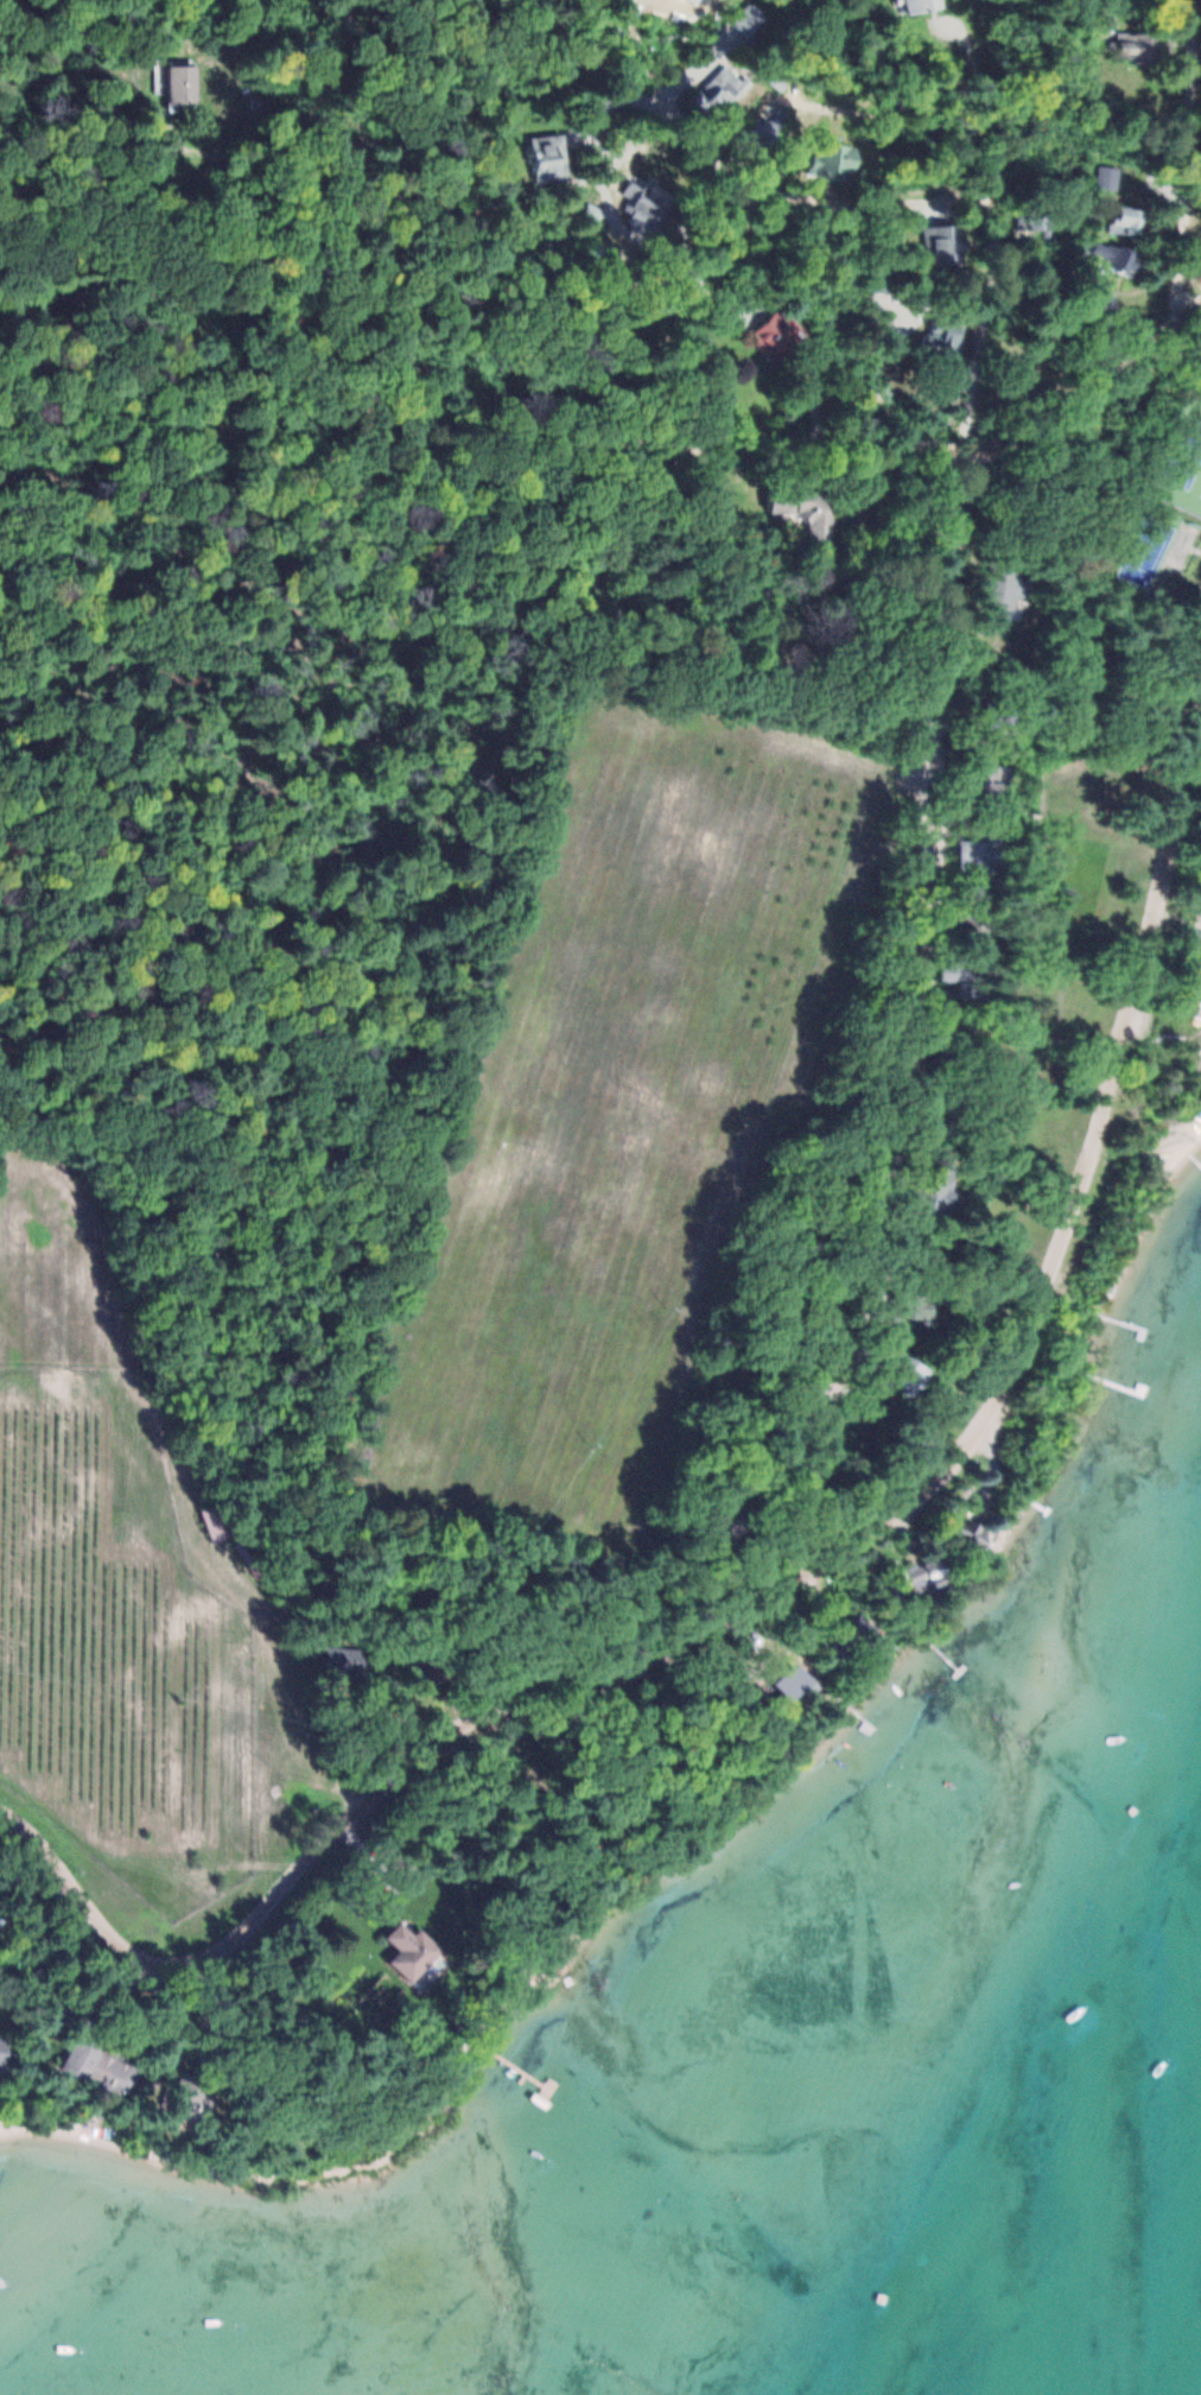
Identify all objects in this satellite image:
building: (926, 5)
building: (749, 15)
building: (1135, 42)
building: (183, 84)
building: (722, 91)
building: (547, 156)
building: (835, 159)
road: (1183, 161)
road: (857, 199)
building: (1040, 218)
building: (1132, 218)
building: (945, 243)
building: (1119, 255)
road: (718, 267)
road: (986, 325)
building: (946, 329)
building: (780, 332)
road: (608, 441)
park: (1180, 456)
building: (808, 512)
park: (1146, 550)
building: (1009, 578)
building: (990, 780)
road: (933, 853)
building: (983, 854)
building: (1197, 921)
building: (967, 974)
building: (957, 1045)
building: (940, 1116)
building: (913, 1307)
building: (904, 1369)
building: (222, 1520)
road: (826, 1560)
building: (916, 1576)
building: (866, 1628)
building: (347, 1656)
building: (411, 1950)
building: (99, 2066)

